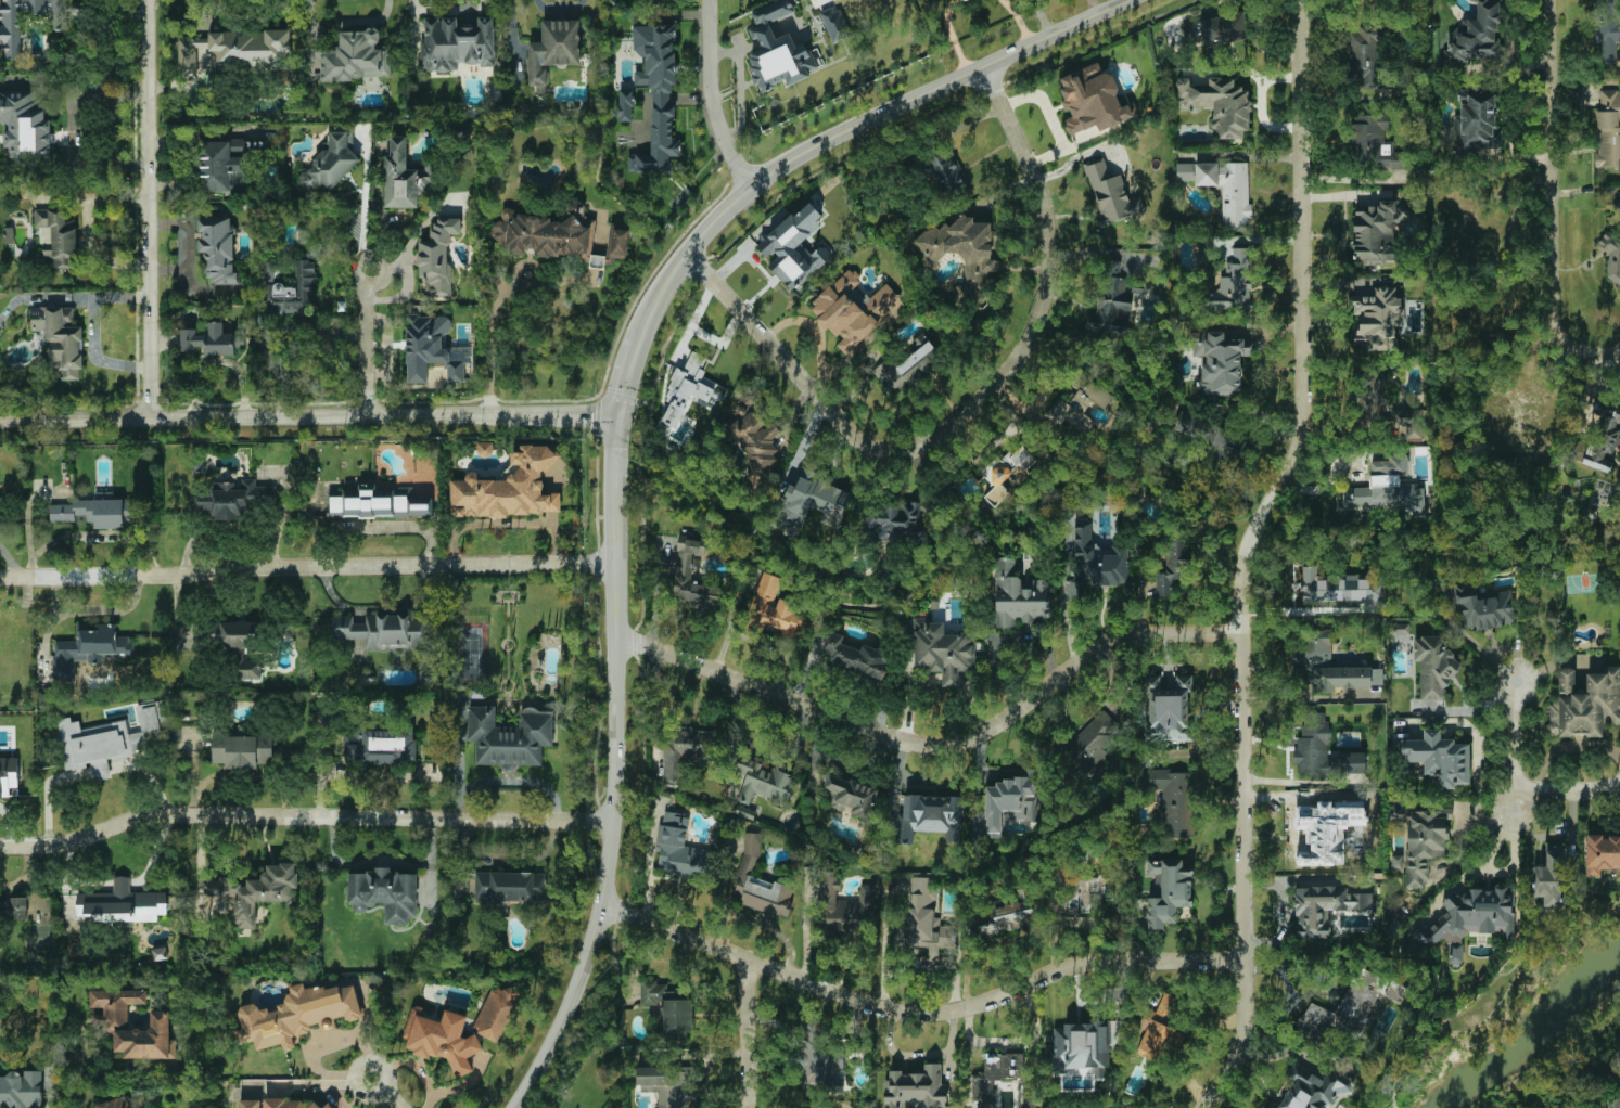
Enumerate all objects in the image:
building: (927, 0)
building: (10, 23)
building: (834, 24)
building: (1607, 27)
building: (1223, 28)
building: (1476, 36)
building: (457, 43)
building: (251, 50)
building: (553, 50)
building: (777, 50)
building: (191, 54)
building: (356, 56)
building: (1365, 56)
road: (73, 90)
road: (709, 95)
building: (656, 96)
building: (1092, 100)
building: (1219, 104)
building: (624, 105)
road: (1053, 119)
building: (1476, 121)
building: (25, 124)
building: (1608, 128)
building: (459, 130)
road: (850, 130)
building: (1372, 141)
building: (255, 149)
road: (76, 160)
building: (331, 160)
building: (217, 163)
building: (1185, 170)
building: (404, 176)
building: (946, 176)
building: (237, 179)
building: (1227, 188)
building: (1110, 194)
road: (1551, 202)
road: (146, 210)
building: (1374, 232)
building: (545, 234)
building: (58, 236)
building: (615, 242)
building: (217, 246)
building: (795, 247)
building: (962, 254)
building: (1611, 255)
building: (437, 256)
building: (1234, 284)
building: (291, 293)
building: (1111, 302)
building: (855, 309)
building: (1377, 318)
road: (93, 327)
building: (60, 337)
building: (208, 339)
road: (366, 345)
building: (432, 348)
road: (490, 352)
building: (1220, 362)
building: (907, 365)
road: (624, 377)
building: (1375, 388)
building: (688, 389)
building: (1079, 403)
road: (965, 408)
traffic signals: (614, 416)
building: (1516, 417)
road: (307, 420)
building: (1408, 422)
building: (680, 429)
building: (1604, 435)
building: (1213, 440)
building: (755, 441)
building: (1010, 473)
building: (510, 487)
building: (1387, 487)
road: (285, 497)
building: (234, 498)
building: (379, 503)
building: (809, 503)
building: (94, 510)
building: (895, 523)
road: (230, 525)
road: (1246, 554)
building: (1098, 557)
road: (306, 567)
building: (1173, 567)
building: (1338, 587)
building: (1018, 596)
building: (1445, 596)
road: (377, 605)
building: (775, 606)
road: (1062, 606)
building: (1483, 607)
building: (382, 629)
building: (89, 644)
building: (237, 645)
road: (1479, 648)
building: (942, 649)
building: (854, 655)
building: (1326, 665)
building: (1433, 666)
building: (1584, 703)
building: (1166, 707)
building: (509, 735)
building: (106, 738)
building: (1093, 740)
building: (381, 745)
building: (1312, 745)
road: (1510, 745)
road: (933, 746)
road: (1568, 746)
building: (241, 749)
road: (758, 749)
building: (685, 751)
building: (1439, 757)
building: (1352, 762)
road: (613, 771)
building: (8, 774)
building: (764, 782)
road: (1301, 782)
road: (1567, 790)
building: (850, 795)
building: (1171, 797)
building: (1006, 800)
building: (744, 811)
road: (303, 814)
building: (930, 816)
building: (1327, 829)
building: (1424, 842)
building: (680, 850)
building: (1602, 853)
building: (1396, 862)
road: (1495, 874)
building: (1549, 876)
building: (760, 882)
building: (509, 886)
building: (256, 890)
building: (1166, 891)
building: (384, 893)
building: (119, 904)
building: (844, 905)
building: (13, 907)
building: (1324, 907)
building: (1469, 917)
building: (1004, 918)
building: (923, 919)
building: (1345, 1006)
building: (668, 1008)
building: (495, 1010)
road: (918, 1012)
building: (296, 1014)
building: (115, 1026)
river: (1533, 1031)
building: (1159, 1032)
road: (744, 1033)
building: (442, 1038)
building: (1084, 1047)
building: (818, 1054)
building: (995, 1073)
road: (67, 1077)
building: (668, 1085)
building: (916, 1088)
building: (21, 1090)
building: (1309, 1090)
road: (51, 1091)
road: (385, 1093)
building: (114, 1103)
building: (250, 1103)
building: (286, 1103)
building: (1612, 1103)
building: (328, 1106)

